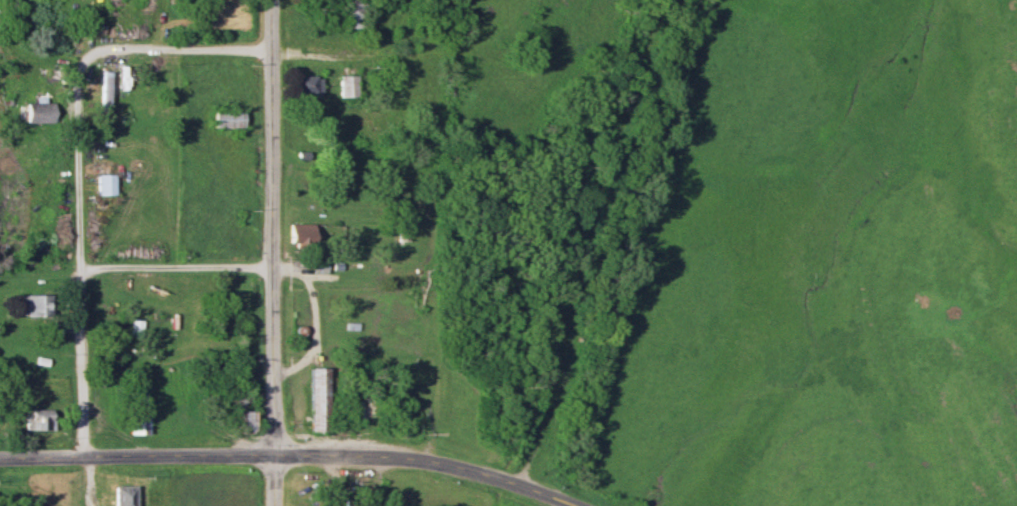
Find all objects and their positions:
building: (351, 14)
road: (179, 49)
road: (312, 53)
building: (347, 86)
building: (306, 90)
building: (38, 112)
building: (228, 118)
building: (105, 184)
building: (301, 233)
road: (80, 253)
road: (272, 253)
road: (176, 267)
building: (35, 304)
building: (136, 331)
building: (319, 400)
building: (37, 418)
road: (292, 455)
building: (125, 495)

